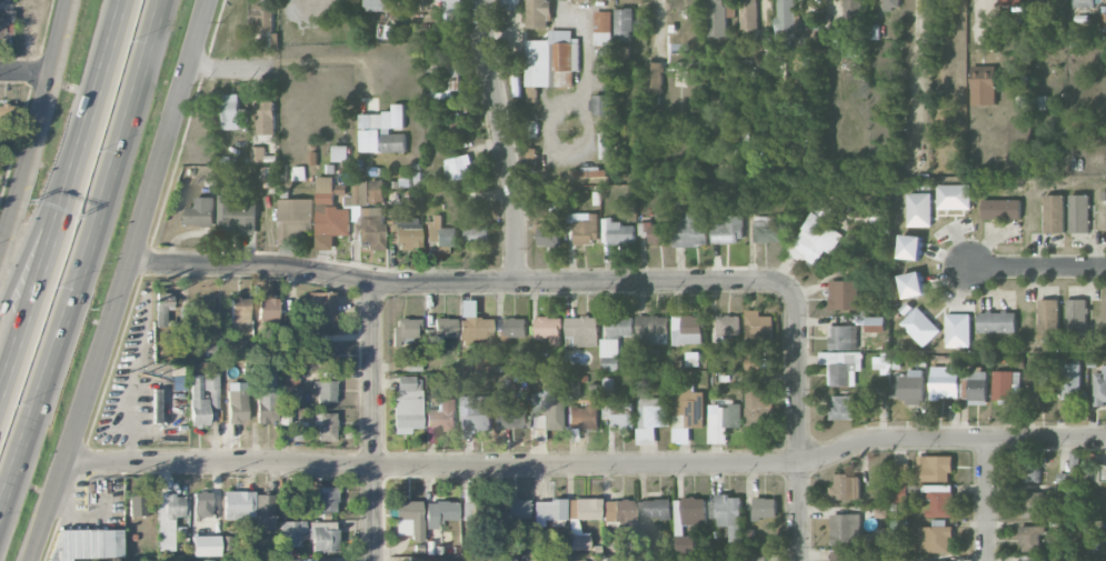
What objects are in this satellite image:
building: (424, 0)
building: (1042, 1)
building: (1010, 2)
building: (1084, 2)
building: (378, 4)
building: (509, 4)
building: (891, 4)
building: (452, 9)
building: (853, 9)
building: (538, 12)
building: (749, 14)
building: (716, 18)
building: (785, 19)
building: (265, 23)
building: (6, 24)
building: (624, 24)
building: (604, 28)
building: (1052, 29)
road: (588, 48)
road: (107, 52)
building: (552, 60)
road: (231, 67)
road: (28, 72)
building: (455, 73)
building: (655, 79)
building: (984, 84)
building: (1039, 102)
building: (602, 104)
building: (232, 112)
building: (267, 117)
road: (39, 127)
building: (530, 128)
building: (382, 130)
road: (502, 141)
building: (606, 144)
road: (562, 148)
building: (340, 152)
building: (258, 154)
building: (531, 157)
building: (459, 167)
building: (590, 173)
building: (269, 176)
building: (377, 191)
building: (954, 196)
road: (44, 208)
building: (919, 209)
building: (1002, 209)
building: (202, 211)
building: (1054, 213)
building: (1079, 213)
building: (329, 214)
building: (238, 216)
building: (366, 217)
building: (295, 219)
building: (582, 227)
building: (728, 228)
building: (768, 229)
building: (820, 229)
building: (691, 230)
building: (617, 231)
building: (477, 232)
building: (656, 232)
building: (407, 233)
building: (441, 234)
building: (548, 236)
road: (48, 247)
building: (910, 247)
road: (83, 254)
road: (1036, 267)
road: (122, 281)
building: (913, 283)
road: (458, 284)
building: (845, 294)
building: (162, 308)
building: (267, 308)
building: (322, 308)
building: (239, 310)
building: (186, 313)
building: (1048, 318)
building: (1077, 318)
building: (997, 321)
building: (875, 323)
building: (729, 324)
building: (516, 327)
building: (757, 327)
building: (920, 327)
building: (548, 329)
building: (652, 329)
building: (687, 329)
building: (403, 330)
building: (582, 330)
building: (957, 330)
building: (439, 331)
building: (475, 331)
building: (843, 337)
building: (615, 340)
building: (326, 357)
building: (757, 360)
building: (841, 365)
building: (289, 378)
building: (1069, 380)
building: (944, 381)
building: (178, 382)
building: (1037, 383)
building: (1003, 384)
building: (908, 385)
building: (1099, 385)
building: (572, 388)
building: (977, 388)
building: (644, 389)
building: (325, 391)
building: (266, 395)
building: (202, 397)
building: (877, 397)
building: (753, 398)
building: (407, 403)
building: (156, 405)
building: (237, 407)
building: (843, 407)
building: (546, 410)
building: (476, 412)
building: (687, 412)
building: (622, 413)
building: (510, 414)
building: (582, 417)
building: (651, 418)
building: (441, 419)
road: (375, 421)
building: (723, 421)
road: (799, 423)
building: (326, 427)
road: (588, 465)
building: (935, 468)
building: (1030, 469)
building: (899, 471)
building: (1080, 472)
building: (846, 487)
building: (899, 492)
building: (1069, 497)
building: (326, 499)
building: (940, 499)
road: (989, 500)
building: (136, 504)
building: (201, 504)
building: (1035, 504)
building: (238, 505)
building: (766, 507)
building: (516, 508)
building: (655, 508)
building: (263, 511)
building: (439, 512)
building: (548, 512)
building: (619, 512)
building: (688, 512)
building: (881, 512)
road: (67, 513)
building: (728, 513)
building: (169, 518)
building: (408, 519)
building: (572, 525)
building: (846, 529)
building: (291, 533)
building: (880, 534)
building: (322, 535)
building: (1032, 537)
building: (936, 538)
building: (82, 543)
building: (684, 543)
building: (206, 545)
building: (848, 555)
building: (413, 559)
building: (506, 559)
building: (544, 559)
building: (648, 559)
building: (1036, 560)

